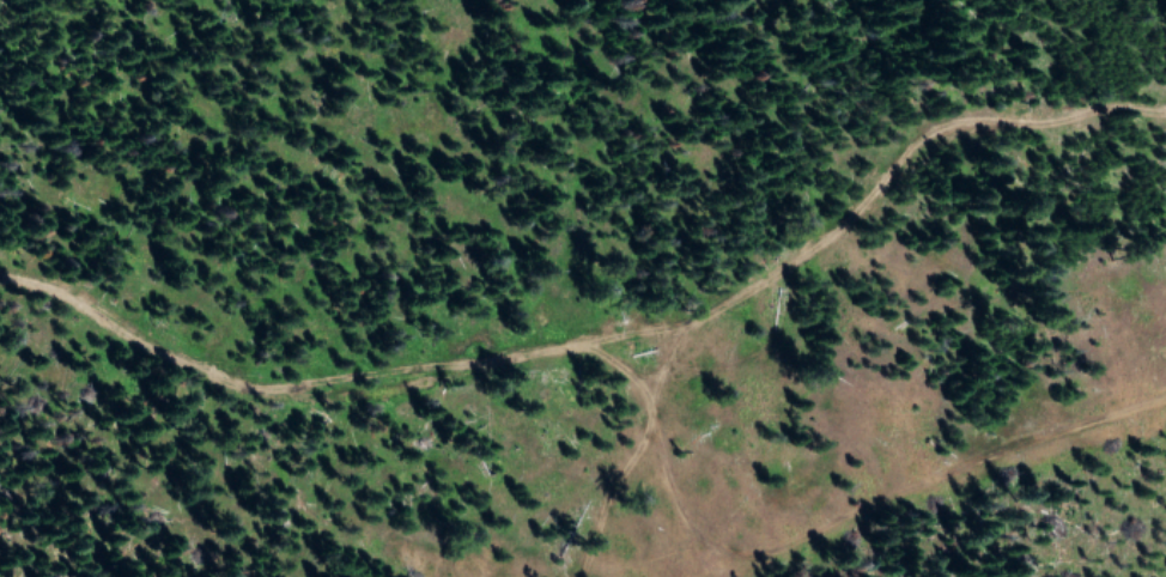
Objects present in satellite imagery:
road: (813, 423)
road: (115, 515)

